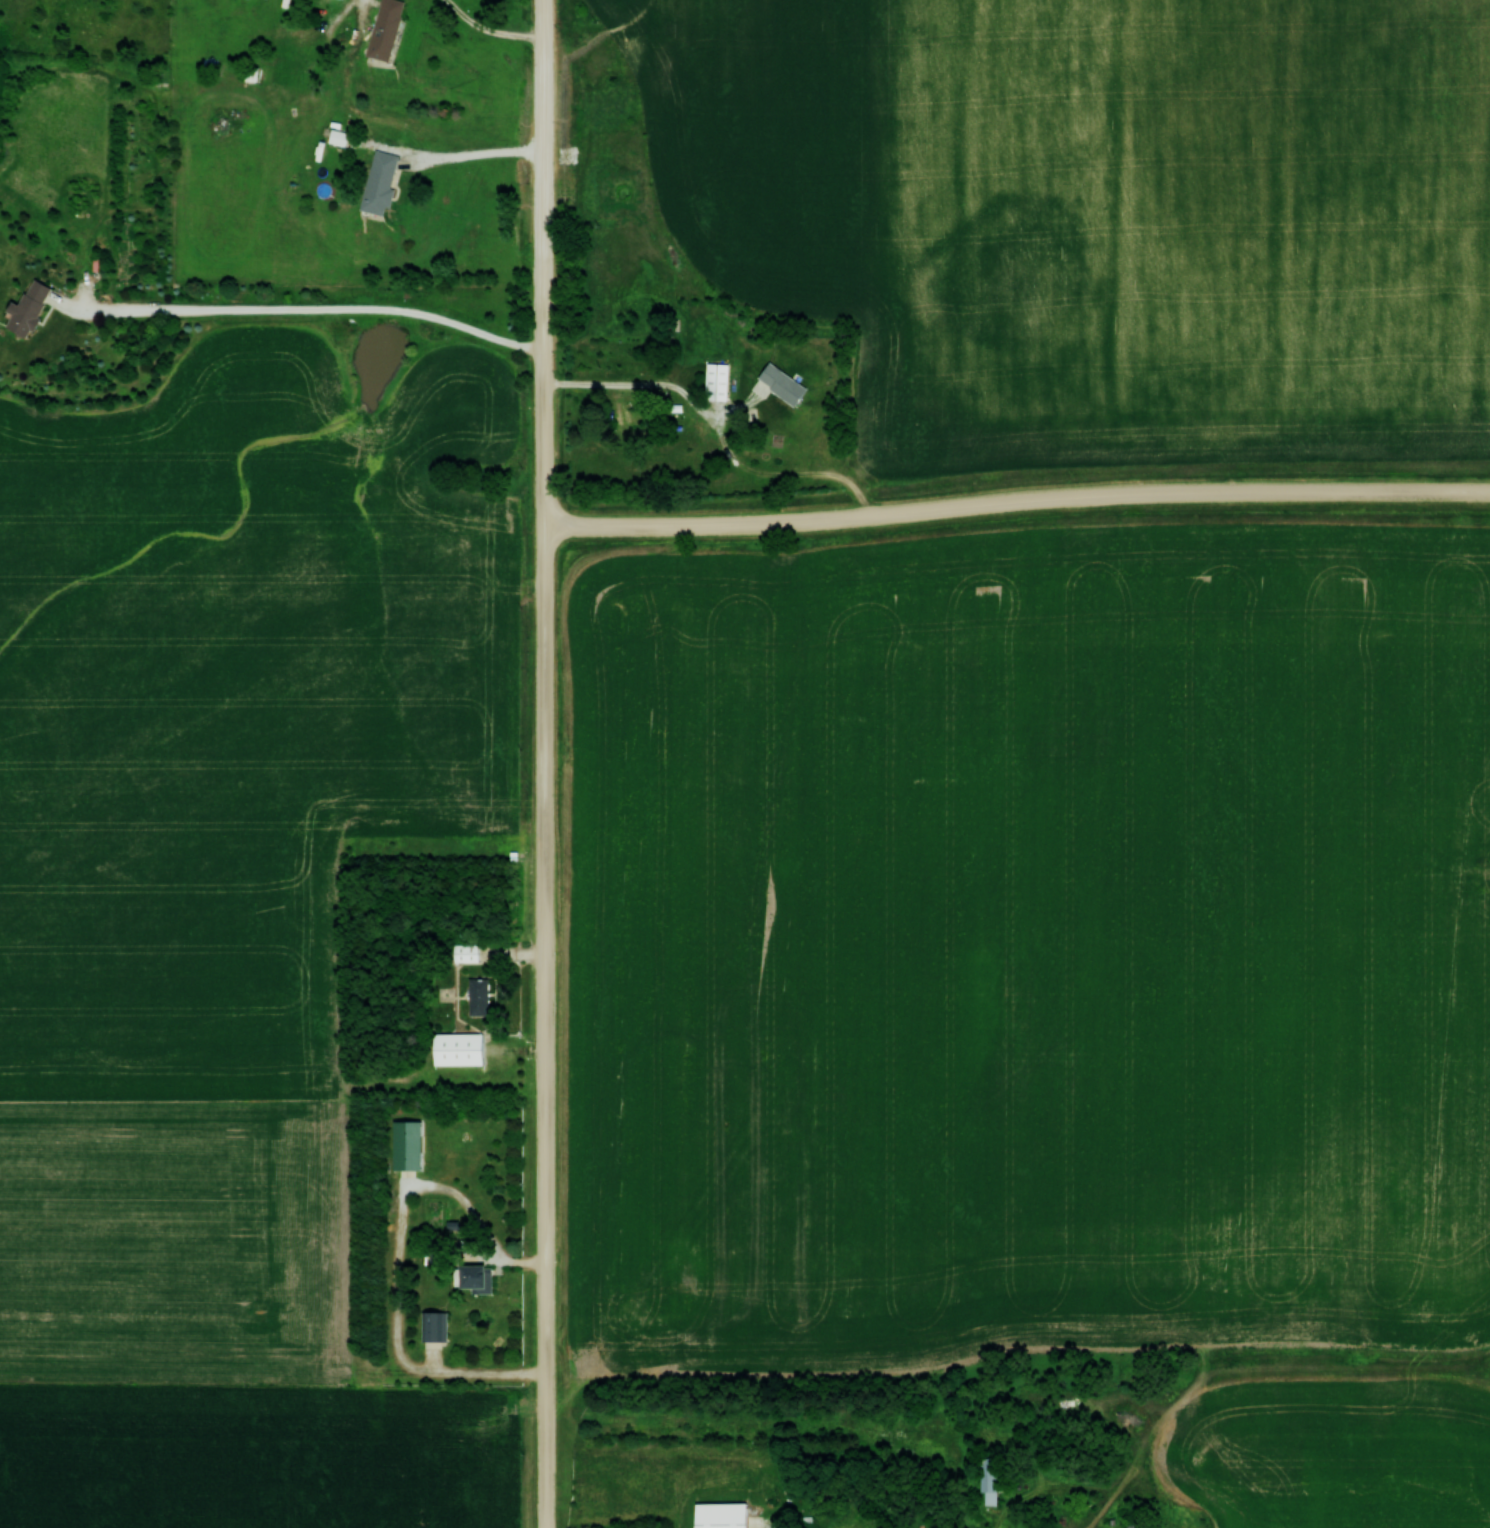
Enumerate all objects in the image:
building: (385, 29)
road: (490, 30)
building: (338, 137)
road: (485, 151)
building: (380, 182)
road: (308, 307)
building: (28, 308)
building: (716, 381)
road: (657, 383)
building: (781, 383)
road: (1017, 500)
road: (545, 763)
building: (478, 996)
building: (458, 1048)
building: (407, 1144)
building: (475, 1278)
building: (434, 1325)
building: (988, 1480)
building: (721, 1515)
building: (1139, 1526)

